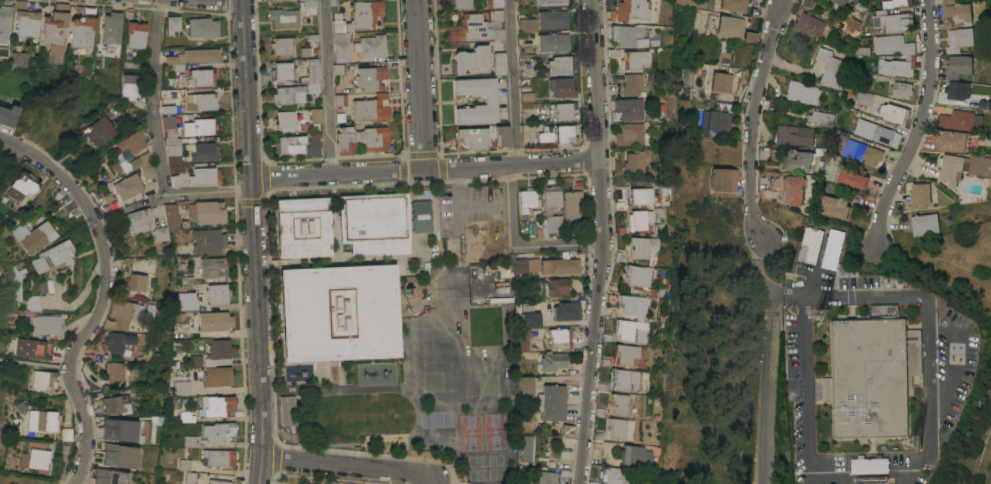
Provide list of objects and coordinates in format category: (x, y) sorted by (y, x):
road: (234, 0)
building: (948, 1)
building: (840, 2)
building: (549, 3)
building: (895, 3)
building: (456, 4)
building: (492, 4)
building: (734, 5)
building: (309, 7)
road: (780, 8)
building: (631, 10)
building: (358, 16)
building: (955, 16)
building: (284, 17)
building: (4, 19)
building: (551, 20)
building: (895, 20)
building: (173, 22)
building: (27, 23)
building: (850, 24)
building: (527, 25)
building: (809, 25)
building: (730, 26)
building: (111, 27)
building: (202, 27)
building: (476, 28)
building: (54, 32)
building: (81, 32)
building: (135, 34)
building: (628, 36)
building: (312, 38)
building: (959, 39)
building: (552, 43)
building: (282, 45)
building: (893, 45)
building: (370, 46)
building: (340, 47)
building: (310, 52)
building: (3, 54)
building: (192, 57)
building: (722, 58)
building: (19, 59)
building: (634, 59)
building: (469, 60)
building: (498, 64)
building: (558, 66)
building: (900, 66)
building: (958, 66)
building: (830, 68)
building: (337, 70)
building: (282, 72)
building: (311, 74)
building: (201, 77)
building: (370, 77)
building: (864, 80)
road: (512, 82)
building: (524, 82)
building: (721, 82)
building: (129, 84)
building: (631, 84)
road: (420, 85)
road: (326, 87)
building: (560, 88)
building: (900, 90)
building: (803, 92)
building: (957, 93)
building: (288, 95)
building: (525, 98)
building: (864, 98)
building: (339, 100)
building: (489, 101)
building: (201, 102)
building: (720, 107)
building: (371, 108)
building: (628, 109)
building: (562, 112)
building: (895, 113)
building: (316, 114)
building: (7, 116)
building: (533, 116)
building: (339, 118)
building: (820, 118)
building: (285, 120)
building: (716, 120)
building: (956, 120)
road: (750, 123)
building: (198, 127)
building: (302, 127)
road: (917, 127)
building: (98, 131)
building: (876, 131)
building: (562, 135)
building: (631, 135)
building: (794, 135)
building: (500, 136)
road: (156, 138)
building: (471, 138)
building: (362, 139)
building: (952, 140)
building: (171, 141)
building: (131, 143)
building: (313, 143)
building: (289, 144)
building: (858, 149)
building: (201, 151)
building: (797, 160)
building: (634, 161)
building: (134, 162)
building: (963, 167)
road: (424, 170)
road: (56, 171)
building: (148, 171)
building: (196, 177)
building: (851, 178)
building: (722, 179)
building: (22, 186)
building: (128, 186)
building: (793, 190)
building: (920, 194)
building: (641, 196)
building: (551, 197)
building: (527, 200)
building: (857, 200)
building: (572, 205)
building: (835, 207)
building: (68, 208)
building: (206, 212)
building: (660, 214)
building: (420, 216)
building: (137, 220)
building: (637, 220)
building: (168, 222)
building: (374, 223)
building: (924, 224)
building: (550, 225)
building: (302, 227)
building: (35, 236)
building: (207, 241)
road: (252, 242)
road: (602, 242)
building: (810, 244)
road: (517, 245)
building: (643, 246)
building: (831, 249)
road: (764, 252)
building: (53, 256)
building: (526, 265)
building: (212, 267)
building: (559, 267)
building: (638, 275)
building: (13, 279)
building: (499, 281)
building: (134, 282)
building: (484, 282)
building: (41, 286)
building: (557, 286)
building: (218, 294)
road: (845, 295)
building: (186, 301)
building: (32, 302)
building: (635, 306)
building: (567, 311)
building: (148, 312)
building: (338, 313)
building: (122, 314)
building: (529, 316)
building: (181, 317)
building: (215, 321)
building: (44, 325)
building: (633, 331)
building: (561, 338)
building: (524, 340)
building: (120, 342)
building: (30, 349)
building: (221, 349)
road: (72, 351)
building: (627, 354)
road: (956, 356)
building: (195, 361)
building: (553, 361)
road: (768, 370)
building: (117, 372)
road: (927, 372)
building: (871, 376)
building: (217, 377)
building: (624, 378)
building: (44, 379)
building: (526, 385)
building: (182, 387)
road: (807, 396)
building: (552, 402)
building: (619, 403)
building: (117, 404)
building: (216, 406)
building: (286, 410)
building: (399, 415)
building: (374, 416)
building: (188, 417)
building: (324, 417)
building: (349, 417)
building: (41, 421)
building: (617, 428)
building: (118, 430)
building: (219, 432)
building: (189, 442)
building: (527, 449)
building: (118, 456)
building: (634, 456)
building: (37, 457)
building: (219, 457)
building: (185, 465)
building: (869, 465)
road: (348, 467)
road: (917, 469)
building: (99, 473)
building: (613, 475)
building: (206, 477)
building: (546, 477)
building: (111, 478)
building: (872, 479)

